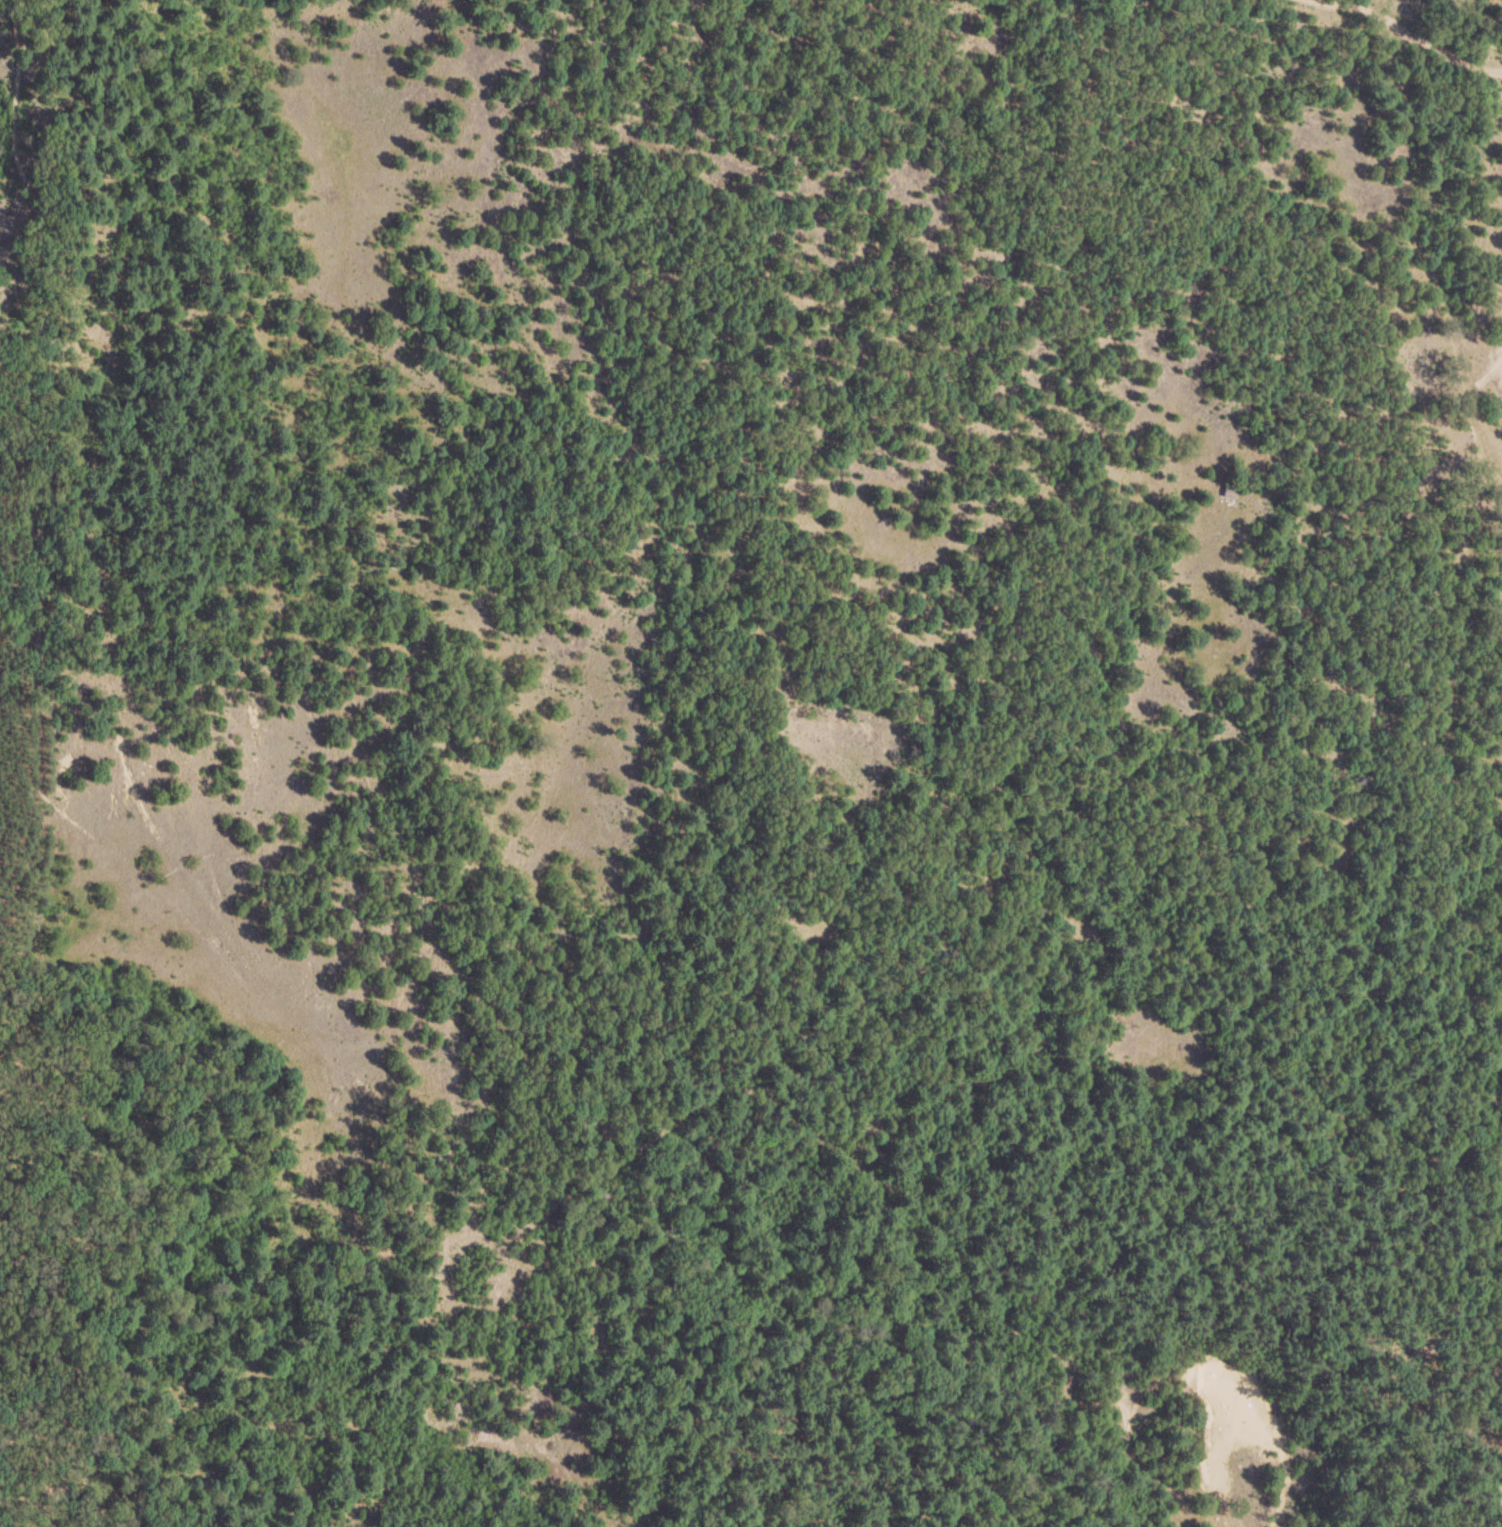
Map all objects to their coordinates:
building: (1229, 498)

